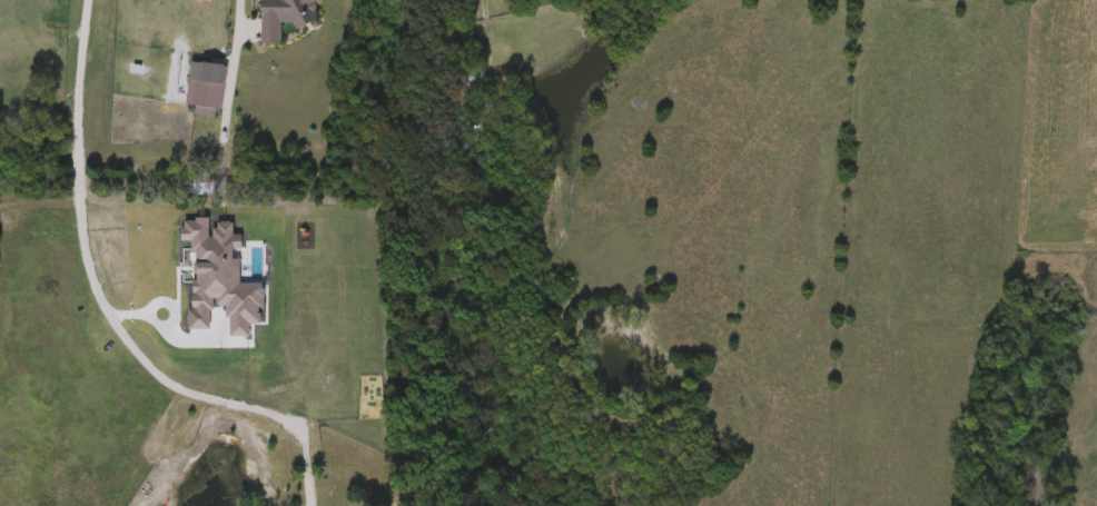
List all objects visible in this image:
road: (231, 67)
building: (471, 81)
road: (91, 274)
road: (307, 464)

